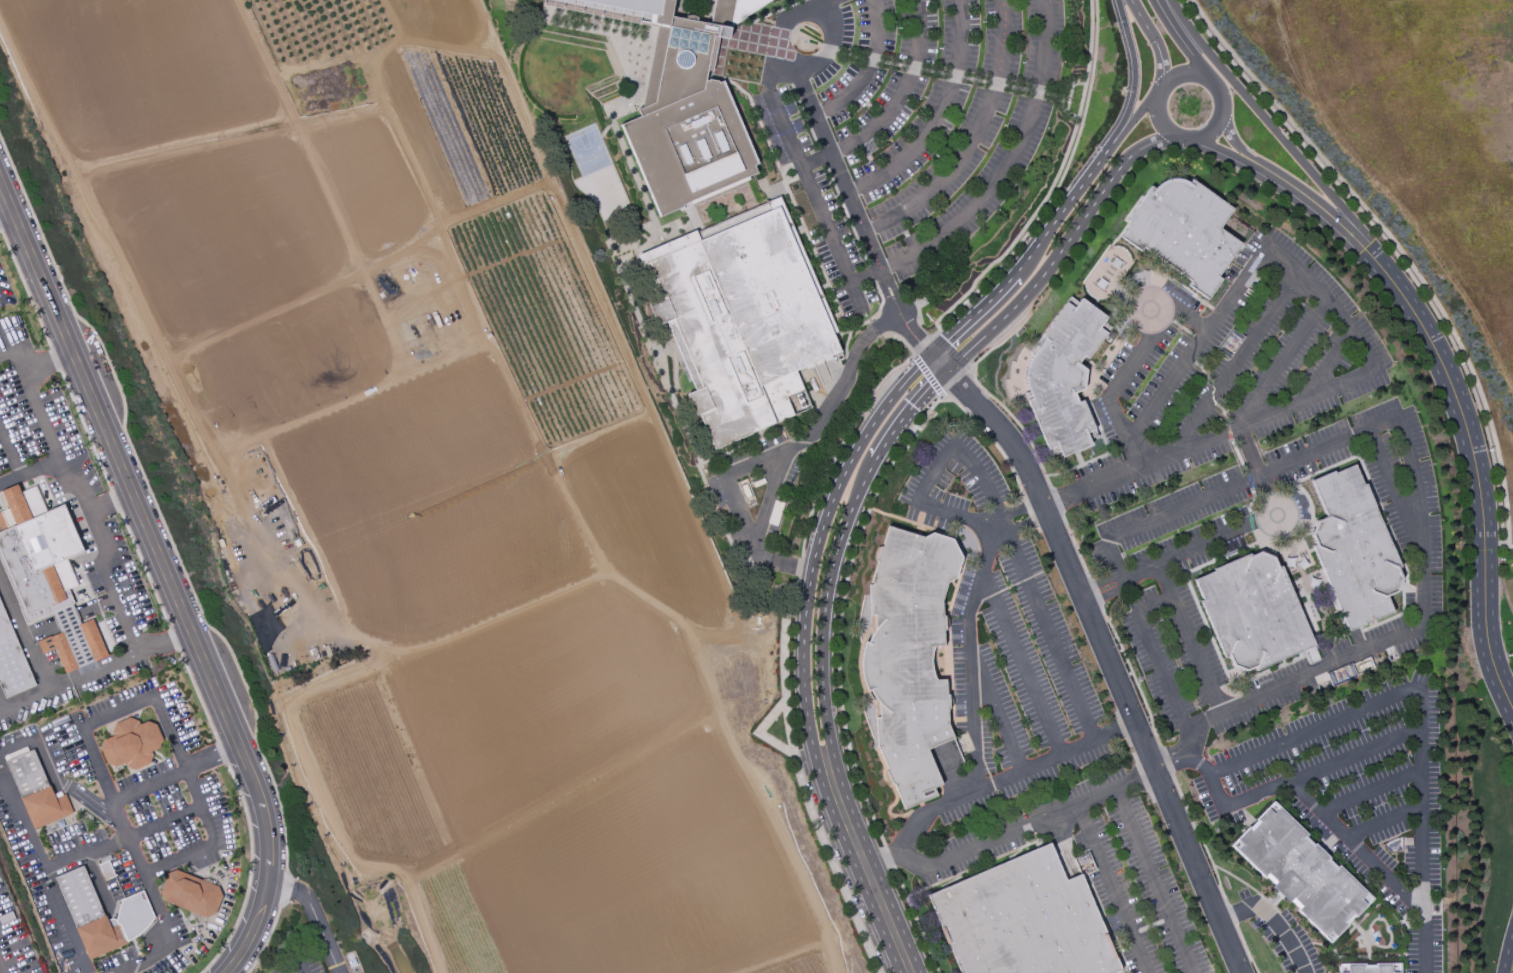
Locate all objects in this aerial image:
road: (1184, 40)
road: (1155, 41)
road: (830, 45)
street lamp: (1147, 45)
road: (828, 50)
road: (851, 56)
street lamp: (1184, 57)
road: (872, 60)
road: (892, 64)
road: (868, 68)
road: (912, 68)
road: (934, 72)
road: (954, 76)
road: (1135, 77)
road: (973, 80)
road: (1210, 82)
street lamp: (1150, 83)
road: (993, 84)
road: (1016, 88)
road: (1034, 91)
road: (903, 92)
road: (1041, 92)
road: (1061, 95)
road: (1070, 98)
building: (687, 107)
road: (937, 115)
street lamp: (1146, 118)
road: (1132, 119)
crop: (457, 122)
road: (1231, 137)
road: (827, 138)
road: (1280, 138)
road: (973, 139)
street lamp: (1217, 141)
park: (588, 152)
road: (1227, 152)
road: (1008, 162)
road: (1053, 183)
road: (809, 184)
road: (1056, 189)
crop: (253, 212)
road: (6, 216)
building: (1182, 231)
road: (1396, 246)
road: (1391, 249)
road: (866, 276)
road: (880, 281)
road: (1328, 297)
road: (882, 302)
crop: (546, 318)
building: (742, 319)
road: (878, 327)
road: (901, 340)
road: (1429, 340)
crop: (314, 343)
road: (1198, 343)
road: (922, 346)
road: (18, 349)
road: (952, 353)
road: (1234, 358)
road: (1279, 359)
road: (49, 362)
road: (1125, 366)
road: (997, 369)
road: (928, 377)
building: (1064, 378)
road: (958, 385)
road: (988, 394)
road: (818, 428)
road: (895, 428)
road: (1208, 439)
road: (842, 447)
road: (860, 448)
road: (1248, 451)
road: (936, 474)
road: (1386, 475)
road: (20, 477)
road: (1251, 478)
road: (727, 479)
road: (10, 482)
road: (1057, 501)
road: (107, 503)
road: (155, 504)
road: (134, 505)
crop: (427, 507)
road: (84, 510)
road: (1418, 510)
road: (959, 515)
road: (902, 520)
crop: (640, 522)
road: (1217, 535)
road: (1497, 542)
road: (855, 545)
road: (1075, 546)
road: (1508, 546)
building: (1354, 548)
building: (36, 551)
road: (1113, 560)
road: (799, 567)
road: (1502, 580)
road: (1099, 583)
road: (1031, 589)
road: (1096, 594)
road: (1106, 596)
road: (97, 604)
road: (1153, 604)
building: (1252, 612)
road: (64, 617)
road: (40, 628)
road: (25, 631)
road: (1498, 631)
building: (72, 634)
road: (1190, 638)
building: (92, 639)
road: (165, 642)
road: (73, 643)
building: (59, 650)
road: (969, 651)
road: (1104, 653)
road: (1483, 656)
building: (909, 658)
building: (12, 661)
road: (114, 663)
road: (1022, 663)
road: (85, 671)
road: (1303, 676)
road: (1163, 677)
road: (1135, 678)
road: (69, 682)
road: (26, 701)
road: (2, 707)
road: (997, 713)
crop: (491, 725)
road: (1314, 730)
road: (759, 732)
building: (130, 743)
road: (1169, 758)
road: (1166, 761)
road: (1322, 768)
road: (176, 773)
road: (1210, 776)
road: (55, 777)
road: (1005, 777)
road: (800, 780)
road: (109, 789)
road: (1371, 790)
building: (37, 791)
road: (164, 823)
road: (1385, 823)
road: (1026, 827)
road: (1422, 829)
road: (1201, 839)
road: (212, 844)
road: (1355, 846)
road: (267, 856)
road: (889, 857)
road: (88, 858)
road: (880, 862)
road: (44, 869)
building: (1300, 871)
crop: (626, 878)
road: (1151, 881)
road: (286, 889)
road: (1111, 889)
building: (190, 893)
road: (876, 897)
building: (100, 914)
road: (313, 914)
road: (1230, 914)
road: (916, 919)
building: (1024, 920)
road: (1269, 920)
road: (250, 932)
road: (267, 939)
parking lot: (310, 939)
road: (1246, 949)
road: (1508, 955)
road: (298, 964)
crop: (802, 965)
road: (2, 967)
building: (1369, 968)

